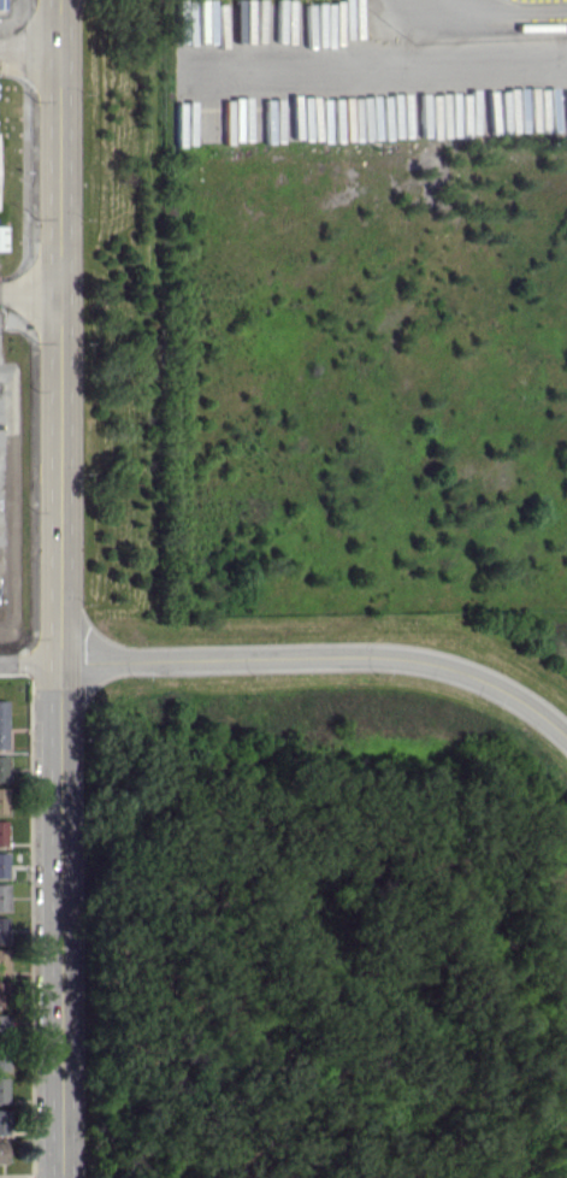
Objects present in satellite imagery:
road: (402, 33)
road: (29, 47)
road: (377, 66)
building: (1, 237)
road: (29, 289)
road: (59, 588)
road: (324, 661)
road: (30, 662)
building: (2, 724)
building: (4, 767)
building: (4, 800)
building: (2, 831)
building: (4, 865)
building: (4, 896)
building: (4, 929)
building: (2, 960)
building: (2, 993)
building: (4, 1023)
building: (4, 1056)
building: (4, 1089)
building: (4, 1121)
building: (2, 1152)

